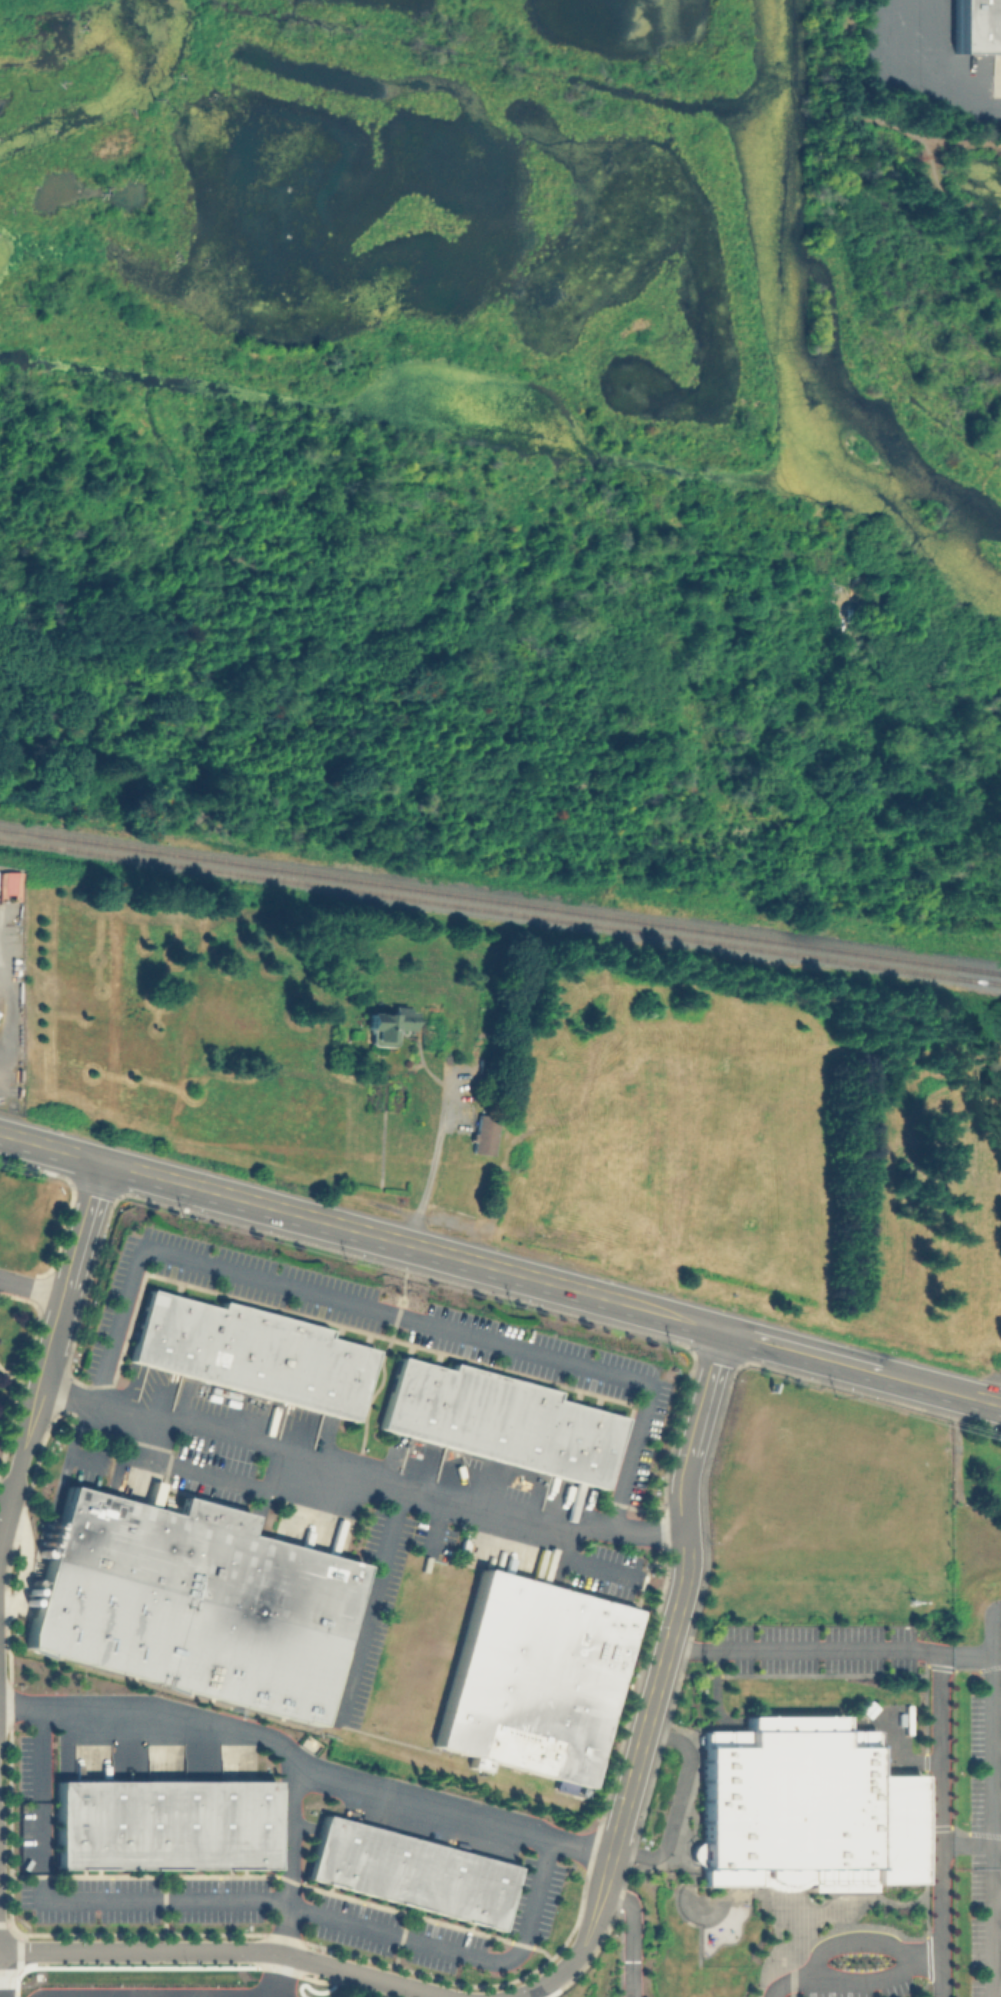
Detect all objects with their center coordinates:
building: (980, 32)
road: (941, 75)
road: (847, 95)
road: (963, 145)
road: (949, 204)
railway: (500, 898)
railway: (500, 909)
building: (391, 1029)
building: (445, 1035)
park: (281, 1042)
building: (488, 1135)
road: (429, 1167)
road: (311, 1215)
road: (33, 1287)
road: (64, 1306)
road: (390, 1312)
road: (674, 1313)
road: (804, 1348)
building: (249, 1351)
road: (381, 1360)
road: (929, 1383)
road: (989, 1399)
building: (498, 1419)
road: (360, 1478)
road: (983, 1484)
road: (12, 1496)
building: (45, 1543)
road: (683, 1593)
building: (190, 1602)
road: (376, 1605)
road: (990, 1651)
road: (995, 1653)
building: (533, 1677)
road: (942, 1687)
road: (996, 1702)
road: (996, 1747)
road: (992, 1760)
road: (306, 1767)
road: (997, 1798)
road: (678, 1802)
building: (804, 1806)
parking lot: (977, 1812)
building: (164, 1824)
road: (972, 1843)
road: (291, 1856)
building: (409, 1872)
road: (997, 1893)
road: (602, 1901)
road: (247, 1902)
road: (994, 1932)
road: (635, 1936)
road: (857, 1938)
road: (997, 1938)
road: (226, 1951)
building: (131, 1972)
road: (286, 1976)
road: (556, 1976)
road: (858, 1983)
road: (997, 1989)

